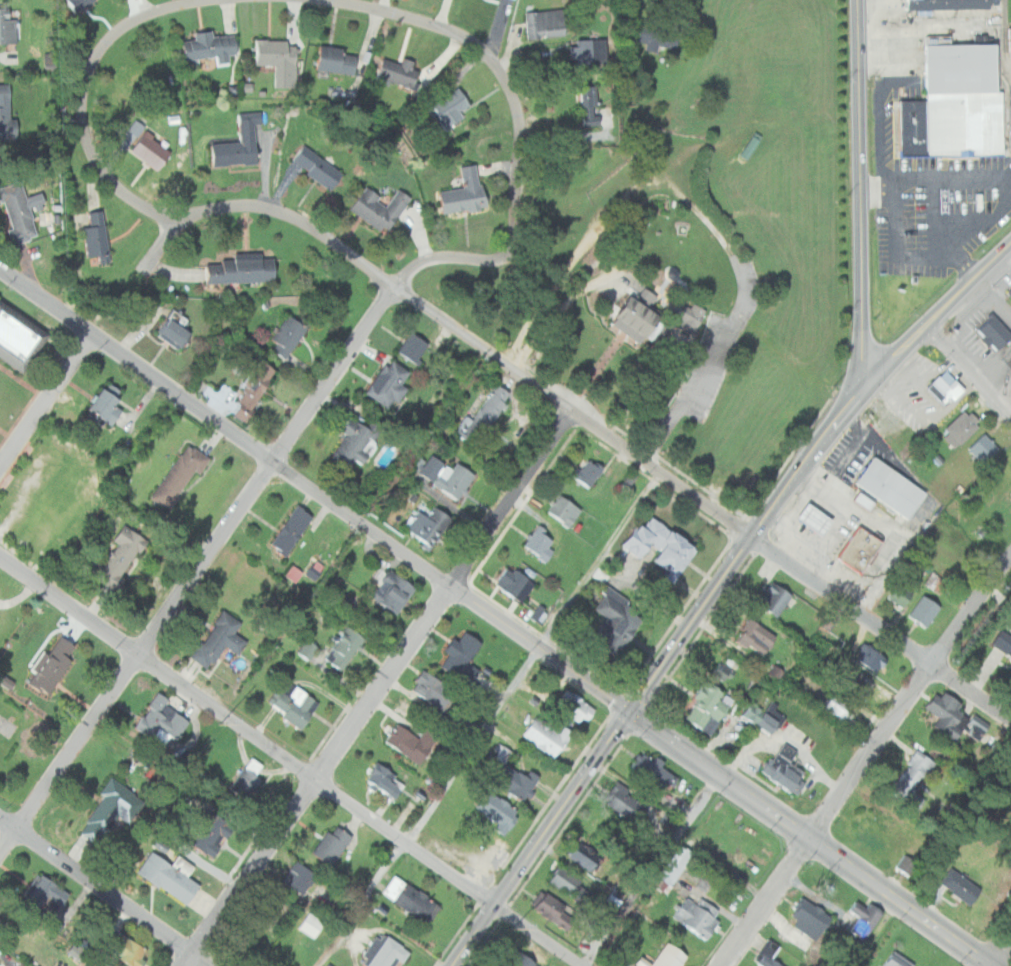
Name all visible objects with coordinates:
building: (73, 4)
building: (950, 4)
building: (541, 23)
building: (5, 27)
building: (657, 39)
building: (1007, 39)
building: (204, 46)
building: (582, 51)
building: (274, 59)
building: (330, 59)
building: (392, 71)
road: (86, 80)
building: (956, 102)
building: (585, 104)
building: (445, 107)
building: (4, 112)
building: (517, 112)
building: (173, 118)
road: (519, 128)
building: (233, 145)
building: (748, 146)
building: (145, 149)
building: (311, 165)
road: (865, 192)
building: (459, 193)
building: (374, 207)
road: (608, 211)
building: (15, 212)
road: (286, 216)
building: (93, 236)
building: (235, 269)
building: (673, 273)
building: (915, 278)
building: (1010, 292)
building: (637, 315)
building: (693, 316)
building: (167, 328)
building: (995, 331)
building: (283, 336)
building: (15, 337)
building: (414, 347)
road: (481, 350)
parking lot: (716, 350)
road: (602, 363)
building: (1008, 369)
road: (968, 370)
road: (869, 379)
building: (252, 382)
building: (389, 383)
building: (946, 387)
road: (45, 401)
building: (99, 405)
building: (486, 411)
building: (961, 427)
building: (357, 440)
building: (984, 447)
road: (843, 461)
building: (424, 466)
building: (588, 471)
road: (659, 474)
building: (176, 475)
building: (455, 479)
building: (890, 486)
road: (313, 492)
building: (863, 499)
building: (565, 509)
building: (815, 518)
building: (429, 524)
road: (839, 527)
building: (292, 529)
building: (543, 542)
building: (661, 543)
building: (859, 548)
road: (889, 551)
building: (110, 565)
road: (195, 568)
building: (292, 573)
building: (515, 582)
building: (393, 590)
building: (895, 593)
building: (776, 598)
building: (341, 601)
building: (924, 609)
building: (617, 619)
road: (688, 624)
road: (881, 625)
building: (756, 637)
building: (218, 638)
building: (1001, 643)
building: (345, 647)
building: (305, 649)
building: (463, 655)
building: (866, 659)
building: (47, 666)
building: (719, 671)
building: (850, 683)
road: (376, 689)
building: (434, 690)
building: (294, 703)
building: (575, 705)
building: (708, 706)
building: (839, 706)
traffic signals: (626, 713)
building: (955, 716)
building: (761, 717)
building: (162, 719)
road: (486, 719)
power tower: (219, 723)
road: (247, 731)
building: (547, 735)
building: (412, 741)
building: (499, 753)
road: (867, 761)
building: (784, 768)
building: (655, 770)
building: (913, 771)
building: (247, 778)
building: (518, 778)
building: (386, 780)
building: (628, 804)
building: (112, 810)
building: (498, 810)
building: (213, 834)
road: (539, 839)
road: (808, 839)
building: (332, 845)
building: (588, 855)
building: (906, 864)
building: (674, 867)
building: (170, 876)
building: (299, 877)
building: (568, 881)
building: (961, 885)
road: (104, 891)
building: (47, 894)
building: (415, 901)
building: (554, 909)
building: (697, 915)
building: (862, 918)
building: (311, 925)
building: (807, 925)
power tower: (512, 928)
road: (538, 935)
building: (124, 947)
road: (1001, 953)
building: (388, 954)
building: (665, 957)
building: (768, 957)
building: (515, 959)
building: (892, 963)
building: (21, 964)
building: (325, 964)
building: (329, 965)
building: (498, 965)
building: (751, 965)

